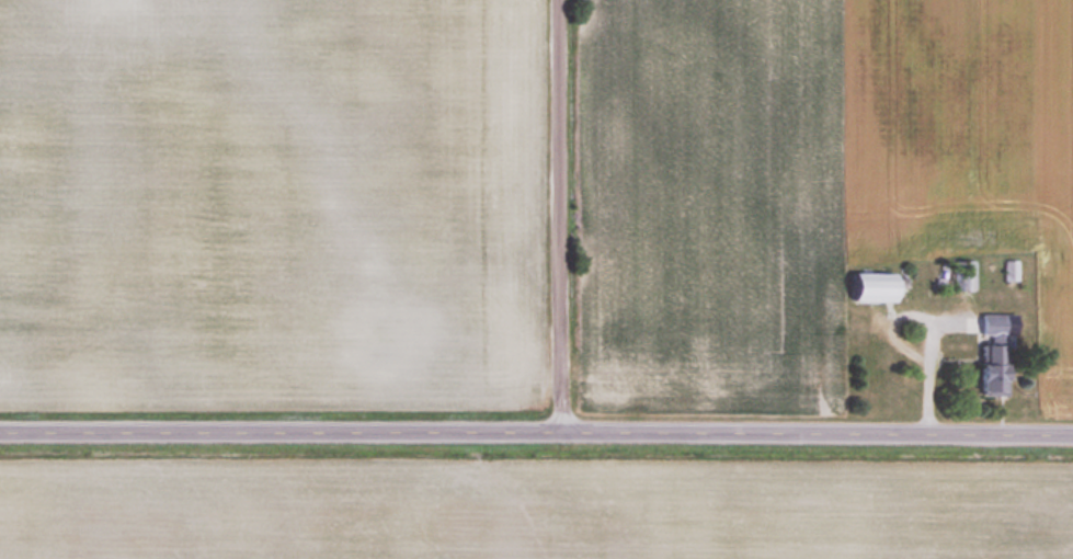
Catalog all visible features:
road: (563, 217)
building: (964, 275)
building: (874, 287)
building: (992, 369)
road: (536, 434)

